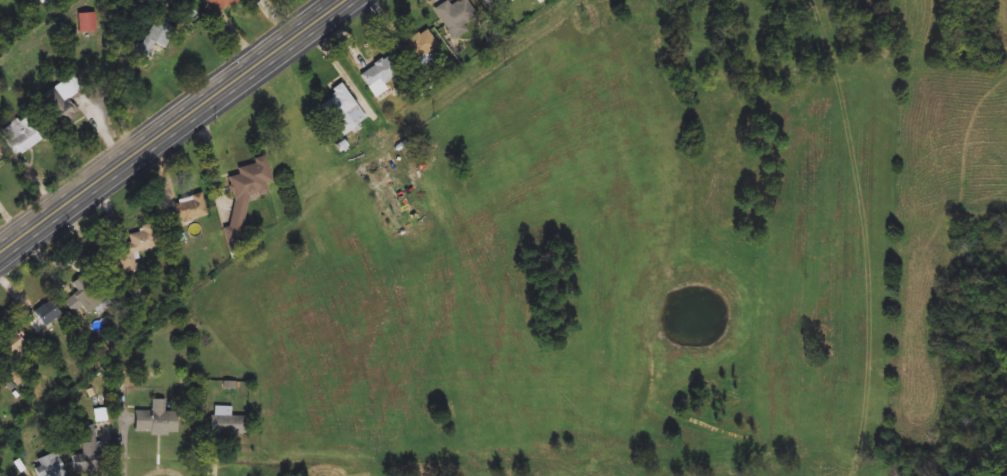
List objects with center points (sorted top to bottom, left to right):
building: (2, 1)
building: (491, 2)
building: (220, 5)
building: (456, 17)
building: (85, 23)
building: (155, 36)
building: (419, 46)
building: (380, 76)
building: (60, 103)
building: (342, 111)
road: (170, 123)
building: (19, 136)
building: (1, 158)
building: (247, 186)
building: (188, 210)
building: (133, 249)
building: (84, 295)
building: (44, 315)
building: (15, 346)
building: (154, 420)
building: (226, 424)
building: (88, 449)
building: (49, 466)

